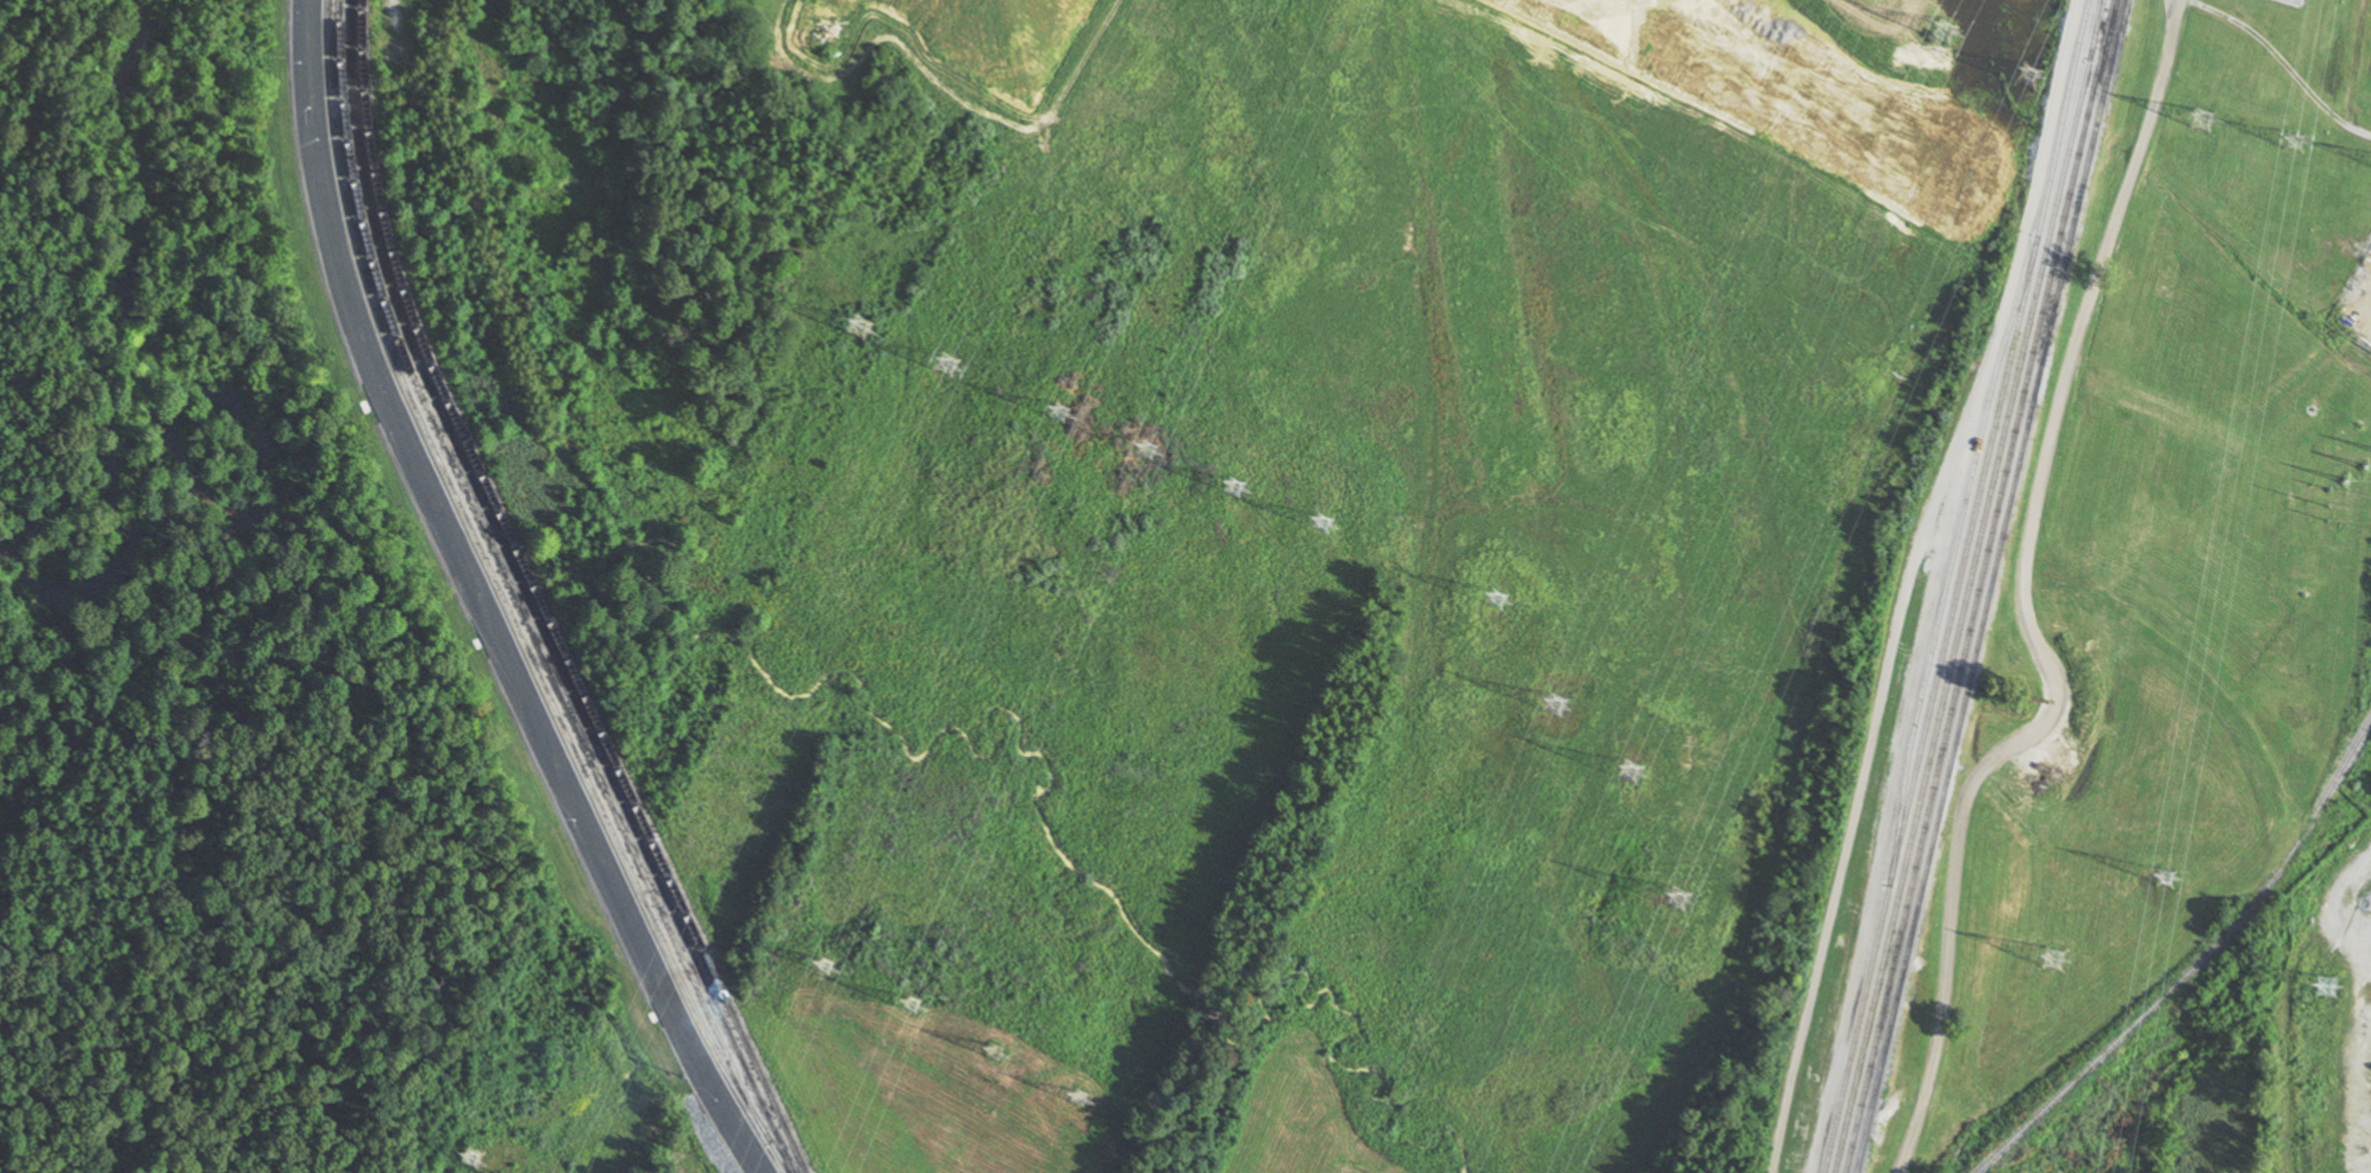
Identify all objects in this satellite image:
power substation: (2295, 1)
railway: (2094, 29)
power tower: (1944, 32)
power tower: (2027, 75)
power tower: (2203, 119)
power tower: (2295, 142)
power tower: (864, 332)
power tower: (945, 364)
power tower: (1059, 413)
power tower: (1145, 448)
power tower: (2364, 466)
power tower: (2354, 509)
power tower: (1237, 514)
power tower: (1320, 522)
railway: (1953, 558)
railway: (1968, 585)
railway: (1978, 585)
railway: (509, 586)
railway: (1958, 586)
railway: (1991, 586)
railway: (527, 598)
railway: (539, 598)
power tower: (1494, 598)
railway: (506, 602)
power tower: (1553, 704)
power tower: (1629, 771)
power tower: (2163, 879)
power tower: (1678, 901)
power tower: (2053, 958)
railway: (2198, 965)
power tower: (824, 966)
power tower: (2326, 987)
power tower: (911, 1006)
power tower: (999, 1081)
power tower: (1078, 1099)
power tower: (470, 1158)

